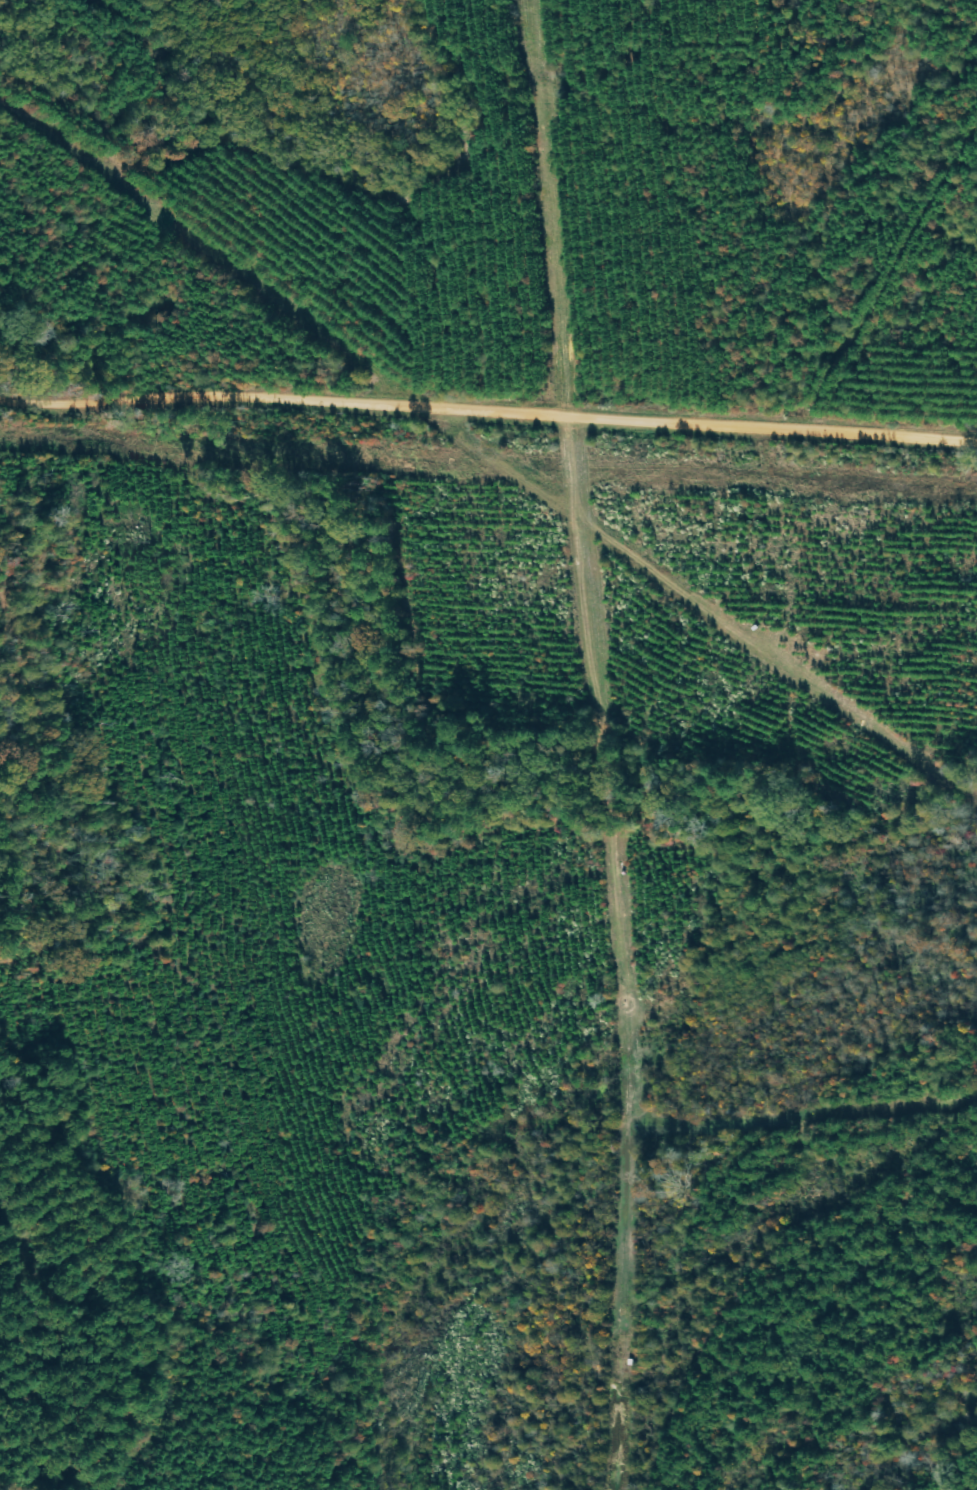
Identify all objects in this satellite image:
road: (488, 409)

